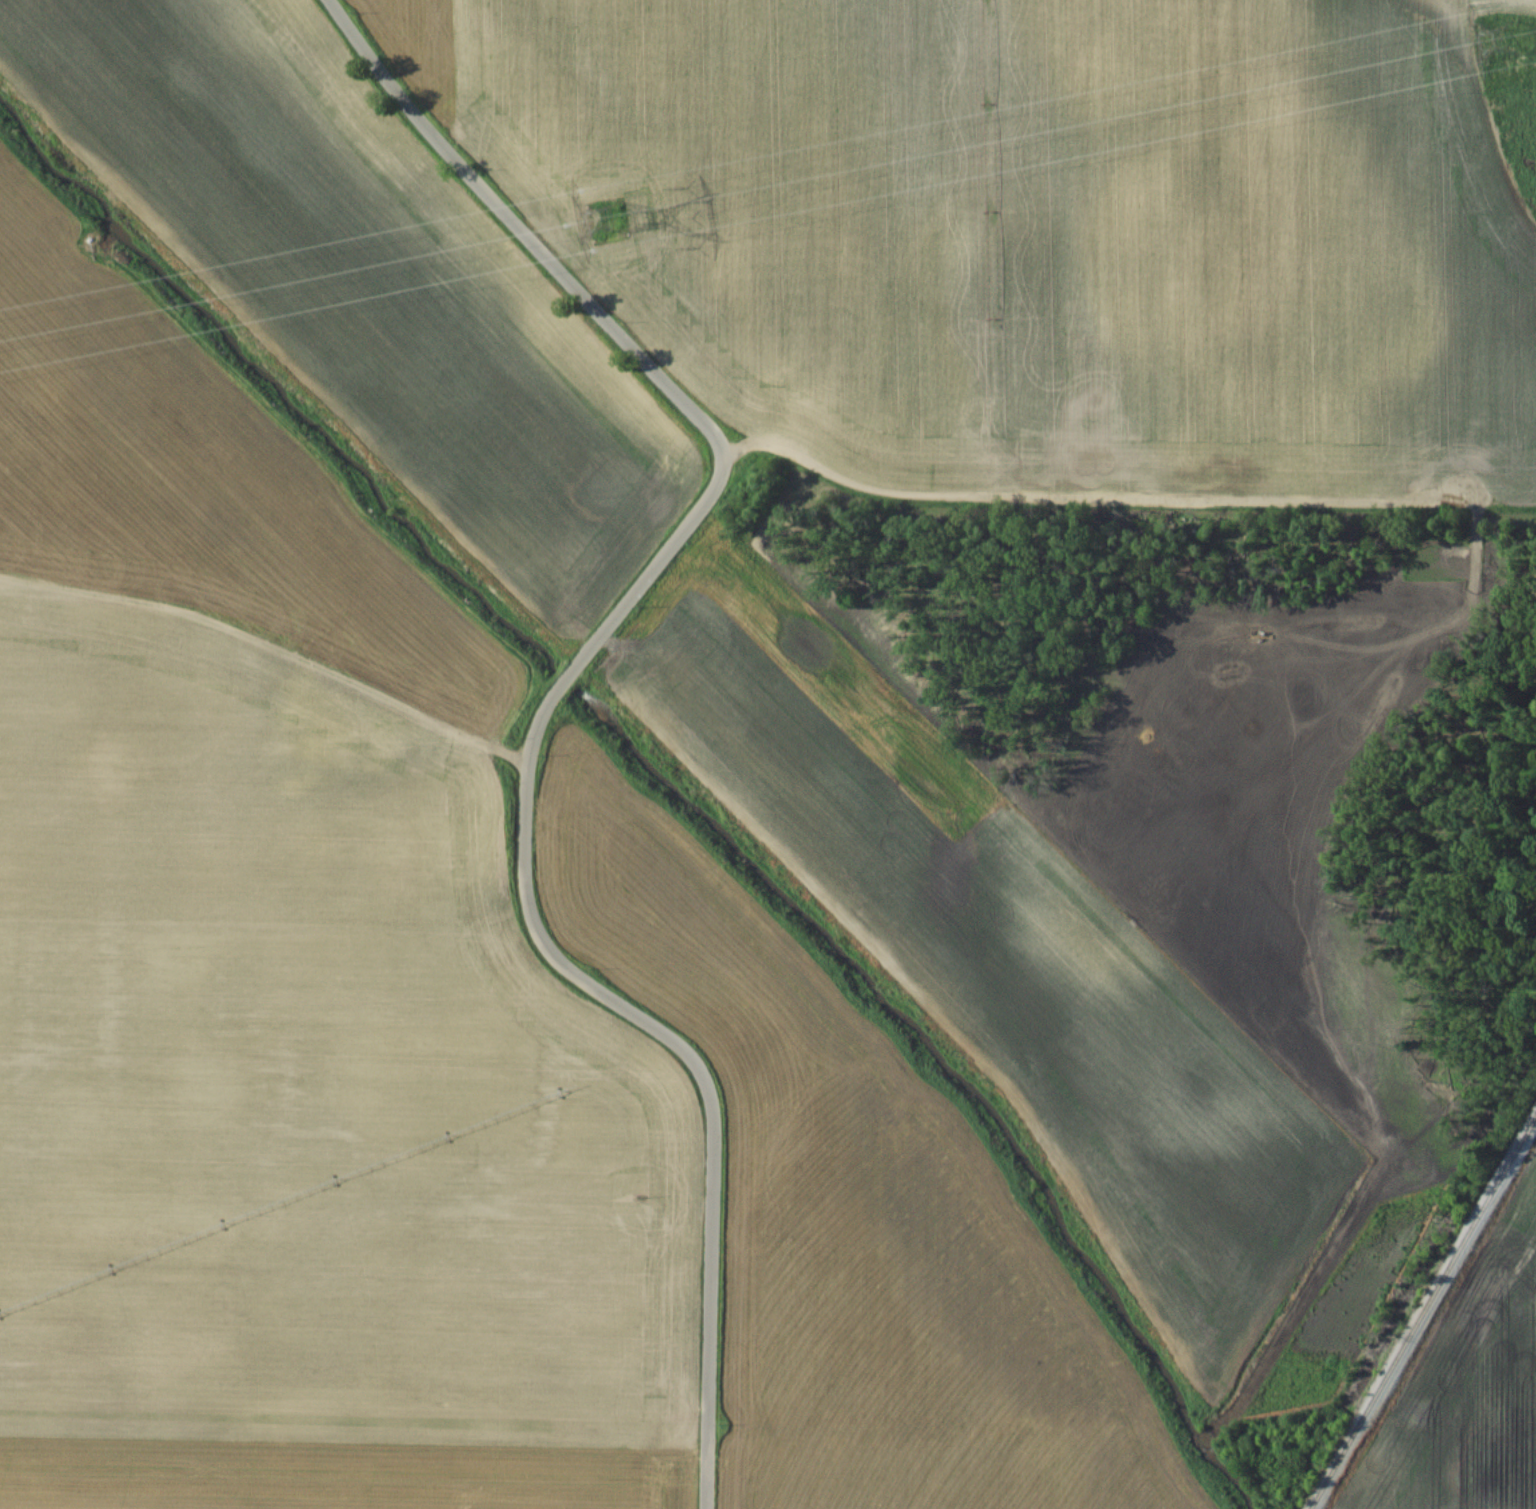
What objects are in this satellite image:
power tower: (1489, 39)
power tower: (611, 205)
road: (551, 701)
railway: (1423, 1310)

